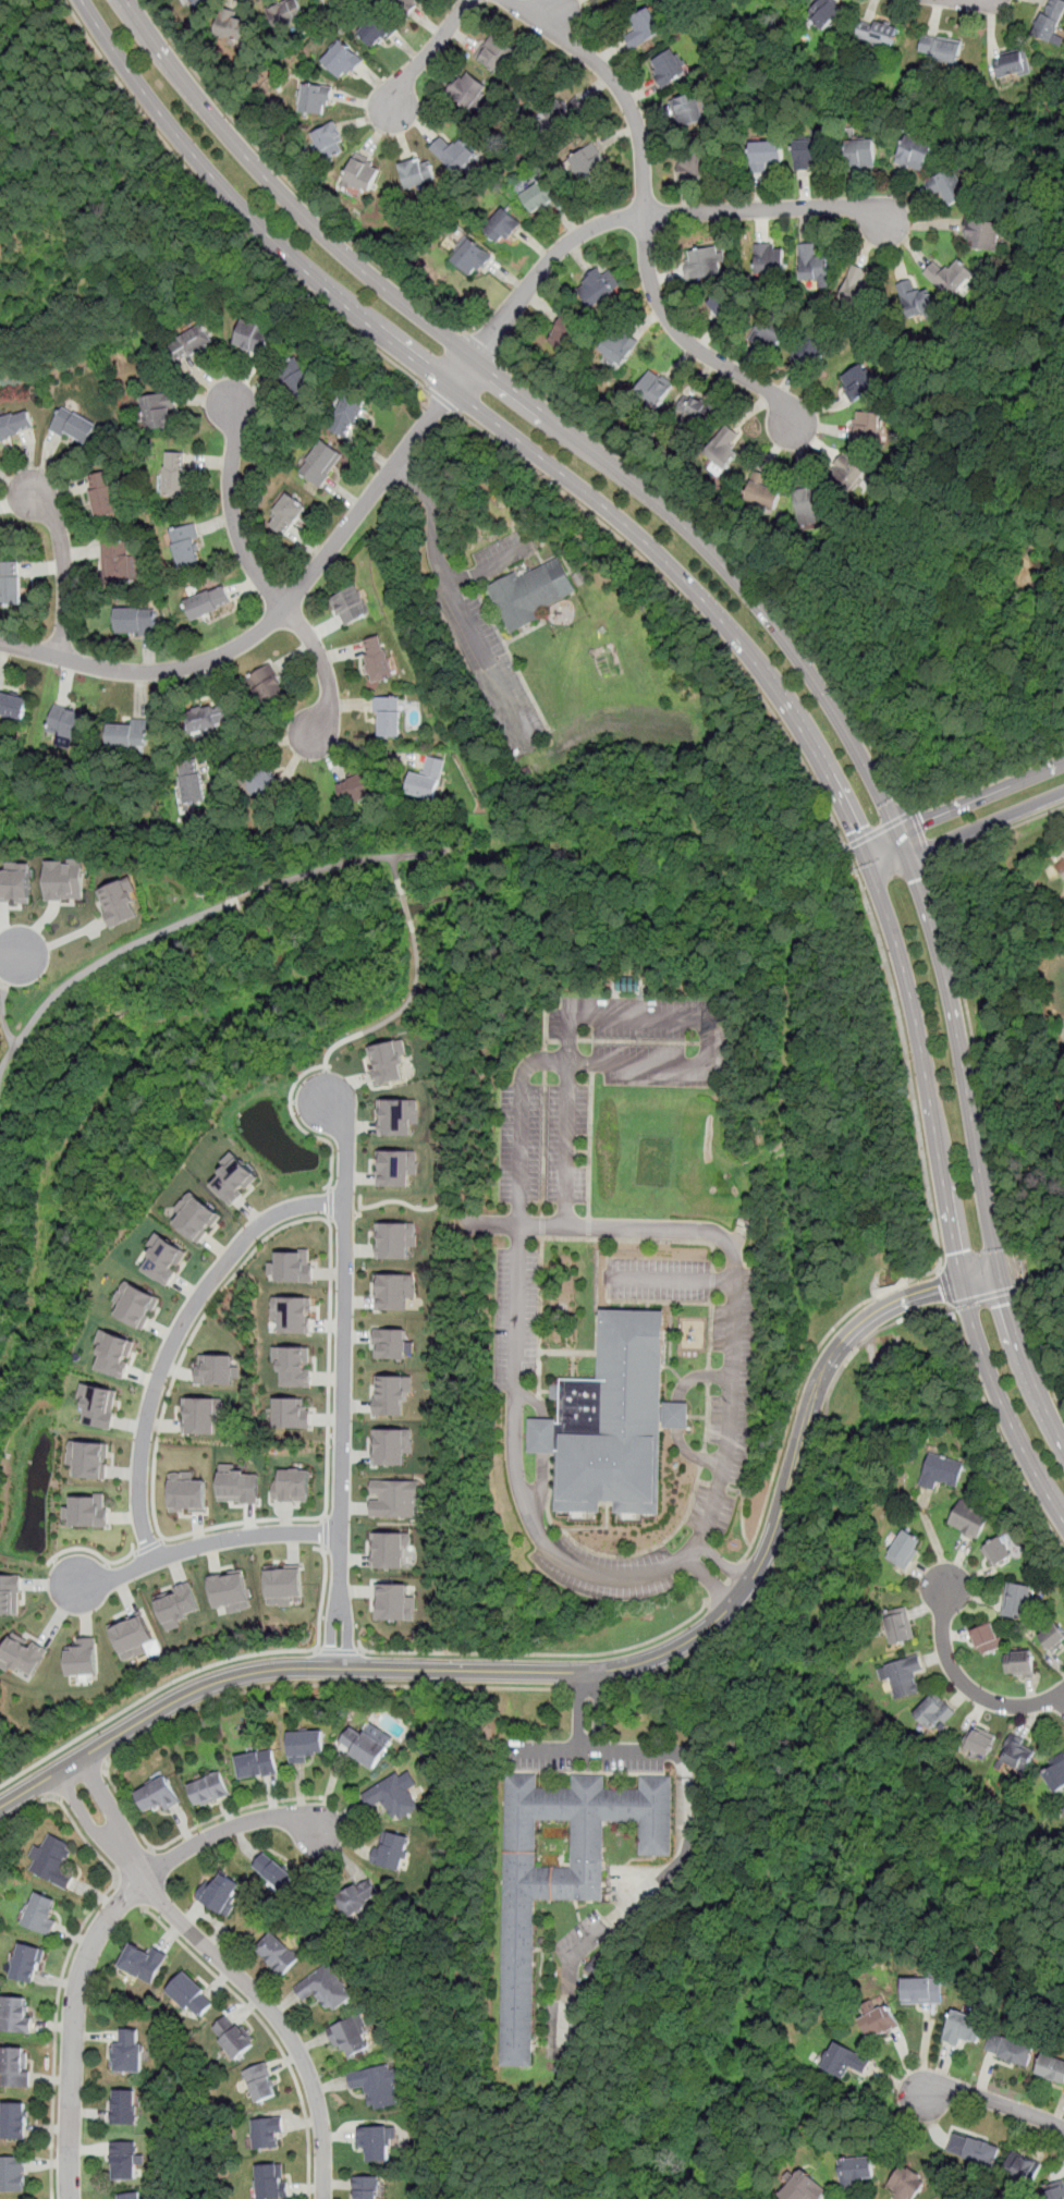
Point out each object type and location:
building: (616, 0)
building: (200, 2)
building: (405, 4)
building: (824, 11)
building: (286, 14)
building: (1050, 20)
building: (644, 27)
building: (239, 29)
building: (376, 29)
building: (877, 34)
building: (941, 50)
building: (496, 53)
road: (425, 56)
building: (341, 60)
building: (1008, 65)
building: (668, 66)
building: (467, 89)
building: (316, 99)
building: (687, 109)
building: (562, 111)
building: (328, 141)
building: (454, 151)
building: (809, 151)
building: (767, 152)
building: (860, 152)
building: (913, 152)
building: (587, 163)
building: (693, 167)
building: (416, 171)
building: (360, 173)
road: (286, 180)
building: (946, 183)
building: (539, 197)
road: (227, 212)
road: (647, 215)
road: (646, 218)
building: (503, 225)
building: (981, 233)
building: (769, 257)
building: (469, 258)
building: (704, 261)
building: (812, 265)
building: (949, 276)
building: (857, 286)
building: (599, 288)
building: (913, 297)
building: (724, 305)
building: (769, 330)
building: (253, 335)
building: (564, 335)
building: (192, 343)
road: (482, 345)
building: (814, 346)
building: (620, 347)
building: (296, 377)
building: (856, 381)
building: (653, 390)
road: (442, 400)
building: (158, 410)
building: (698, 410)
building: (348, 411)
building: (14, 425)
building: (865, 425)
building: (73, 426)
building: (739, 443)
building: (722, 449)
building: (320, 462)
building: (174, 472)
building: (851, 476)
building: (101, 493)
building: (762, 493)
building: (809, 504)
building: (288, 513)
road: (435, 516)
building: (186, 545)
road: (736, 559)
building: (117, 561)
road: (64, 569)
road: (259, 579)
building: (10, 584)
building: (530, 592)
building: (208, 601)
building: (351, 603)
road: (281, 611)
road: (767, 614)
building: (135, 619)
road: (467, 623)
park: (992, 644)
road: (746, 647)
building: (377, 658)
building: (265, 684)
building: (13, 706)
building: (387, 714)
building: (208, 716)
building: (66, 722)
building: (127, 734)
road: (260, 748)
road: (810, 775)
building: (426, 778)
building: (191, 781)
building: (259, 786)
building: (356, 786)
road: (964, 804)
traffic signals: (925, 821)
traffic signals: (857, 829)
road: (880, 830)
road: (968, 830)
road: (924, 840)
road: (398, 875)
building: (63, 878)
traffic signals: (917, 879)
building: (15, 882)
building: (117, 901)
road: (407, 906)
road: (199, 915)
road: (13, 952)
building: (628, 984)
road: (963, 986)
road: (2, 987)
road: (398, 1012)
road: (1, 1015)
park: (864, 1049)
building: (389, 1061)
road: (325, 1079)
road: (521, 1090)
building: (399, 1115)
road: (301, 1126)
building: (398, 1166)
building: (235, 1177)
road: (330, 1186)
road: (400, 1200)
road: (331, 1202)
building: (197, 1215)
road: (343, 1215)
road: (330, 1219)
building: (396, 1238)
building: (164, 1258)
building: (291, 1266)
road: (1014, 1270)
road: (668, 1282)
road: (224, 1286)
road: (946, 1288)
building: (394, 1290)
road: (734, 1296)
road: (984, 1296)
building: (137, 1304)
building: (292, 1312)
road: (178, 1336)
building: (390, 1343)
building: (114, 1352)
road: (1039, 1353)
building: (293, 1365)
building: (216, 1369)
road: (342, 1375)
road: (697, 1375)
road: (800, 1382)
building: (391, 1393)
building: (99, 1404)
park: (916, 1405)
building: (291, 1413)
building: (203, 1414)
road: (677, 1415)
building: (612, 1420)
road: (999, 1430)
building: (392, 1445)
road: (543, 1446)
road: (693, 1453)
building: (89, 1458)
building: (941, 1469)
building: (293, 1485)
road: (718, 1485)
building: (240, 1486)
building: (188, 1494)
building: (394, 1498)
road: (796, 1505)
building: (87, 1510)
road: (742, 1512)
building: (969, 1518)
road: (325, 1534)
road: (197, 1544)
road: (150, 1546)
building: (390, 1548)
building: (904, 1548)
building: (996, 1550)
road: (97, 1553)
road: (725, 1580)
building: (283, 1584)
building: (230, 1590)
building: (10, 1593)
road: (322, 1599)
building: (1016, 1599)
building: (394, 1601)
building: (176, 1604)
building: (898, 1626)
building: (132, 1636)
building: (986, 1637)
building: (1052, 1637)
road: (338, 1650)
road: (539, 1653)
building: (23, 1656)
building: (83, 1656)
building: (1019, 1663)
road: (588, 1672)
building: (904, 1675)
road: (963, 1683)
road: (588, 1688)
road: (150, 1695)
road: (1061, 1698)
road: (578, 1710)
road: (598, 1710)
building: (933, 1710)
road: (189, 1712)
building: (979, 1740)
building: (366, 1743)
building: (306, 1745)
road: (592, 1750)
building: (1017, 1751)
building: (257, 1763)
building: (1055, 1775)
road: (80, 1780)
building: (208, 1788)
building: (158, 1794)
building: (394, 1795)
building: (1063, 1806)
road: (26, 1808)
building: (1063, 1809)
road: (85, 1838)
building: (392, 1849)
building: (52, 1860)
road: (134, 1861)
building: (273, 1871)
building: (560, 1872)
building: (220, 1892)
road: (646, 1892)
road: (130, 1894)
building: (358, 1896)
building: (41, 1911)
road: (98, 1934)
building: (277, 1952)
building: (143, 1962)
building: (28, 1963)
road: (228, 1969)
building: (325, 1988)
building: (922, 1990)
building: (192, 1994)
building: (16, 2012)
building: (880, 2021)
building: (963, 2028)
road: (268, 2030)
road: (56, 2031)
building: (352, 2037)
building: (232, 2038)
building: (1010, 2049)
building: (127, 2051)
building: (846, 2060)
building: (16, 2066)
building: (1051, 2067)
building: (260, 2084)
building: (376, 2086)
road: (992, 2100)
building: (123, 2105)
building: (14, 2119)
building: (267, 2134)
building: (376, 2141)
building: (975, 2148)
building: (124, 2160)
building: (1023, 2166)
building: (856, 2171)
building: (13, 2173)
building: (271, 2182)
building: (908, 2184)
building: (368, 2187)
building: (805, 2187)
building: (1054, 2190)
building: (129, 2195)

